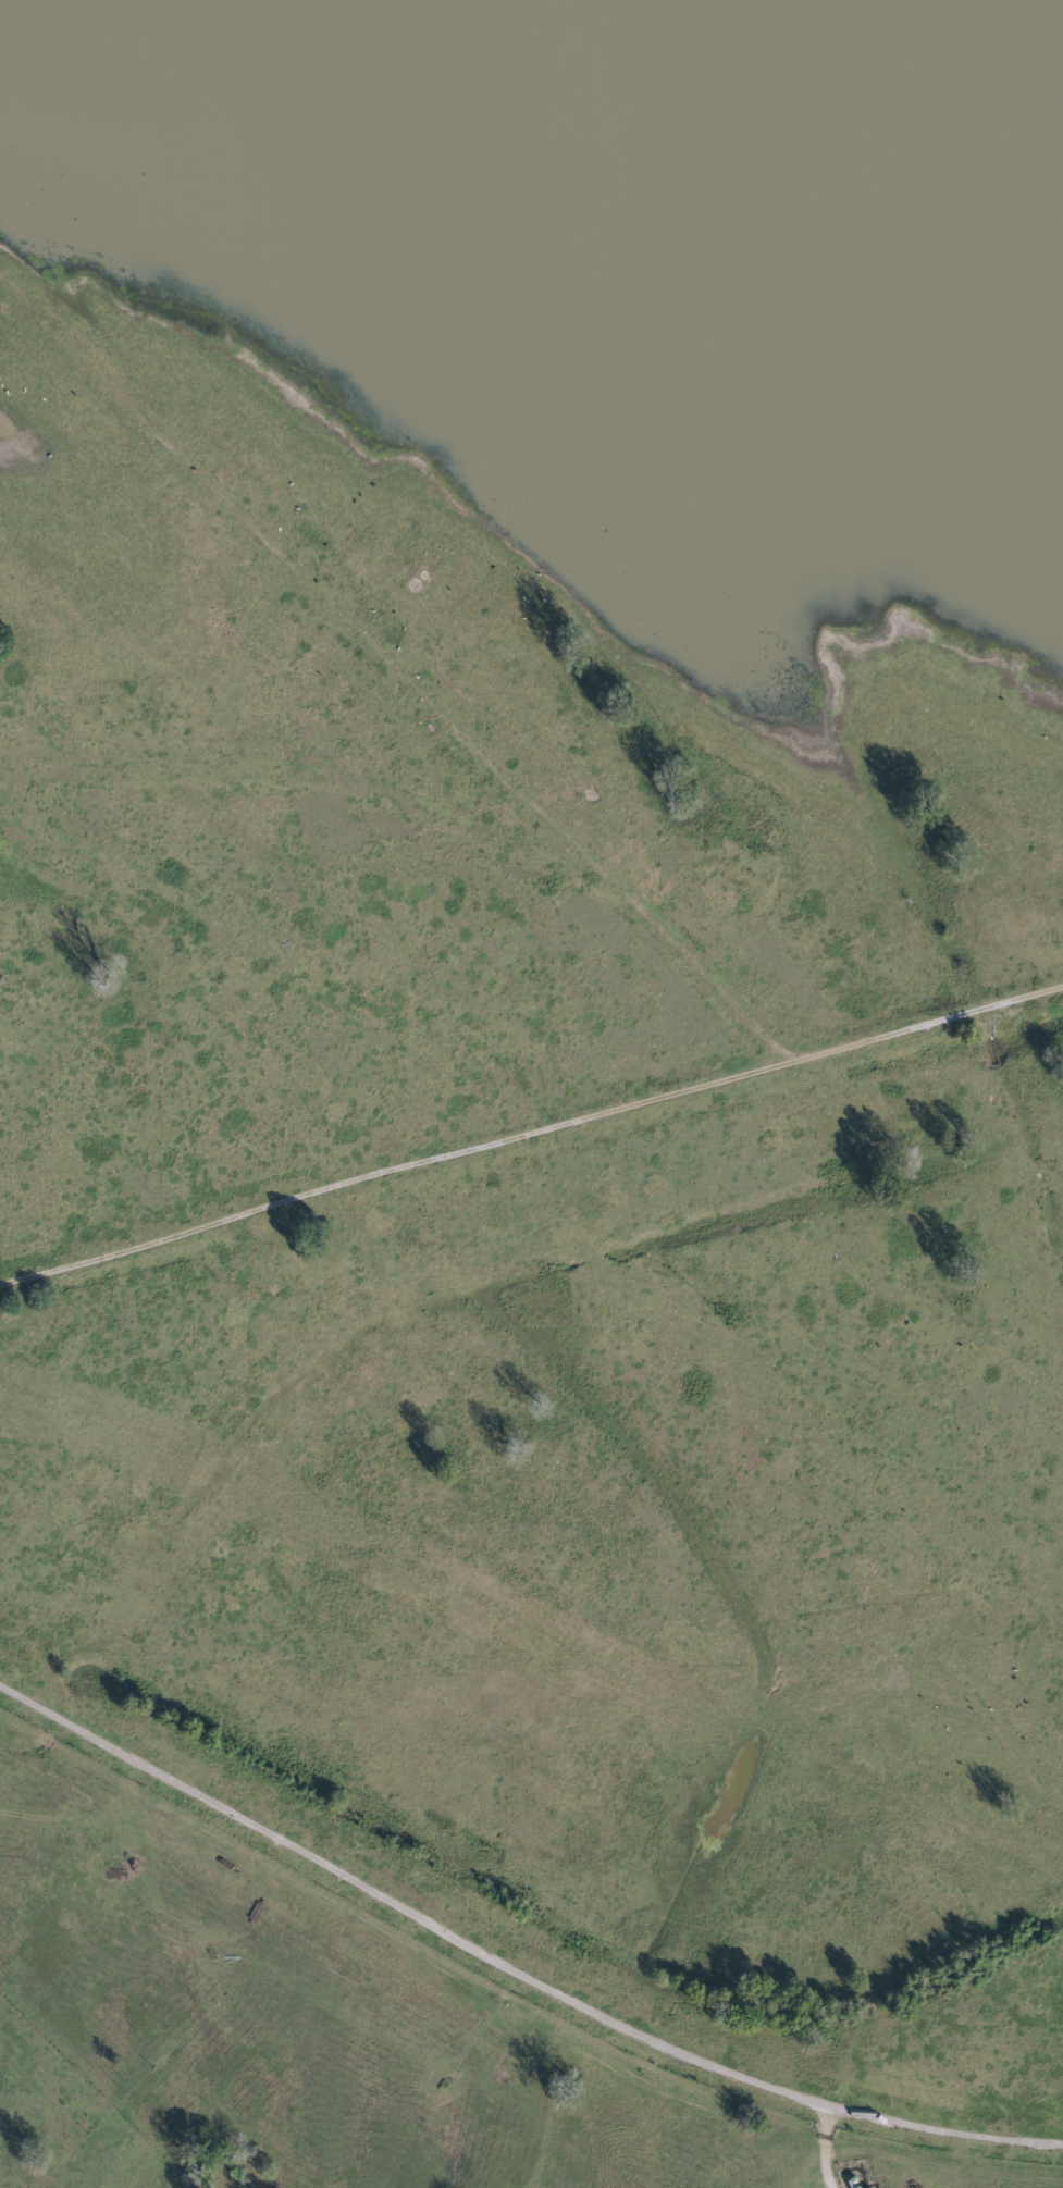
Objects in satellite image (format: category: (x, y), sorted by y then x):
road: (530, 1132)
road: (508, 1992)

